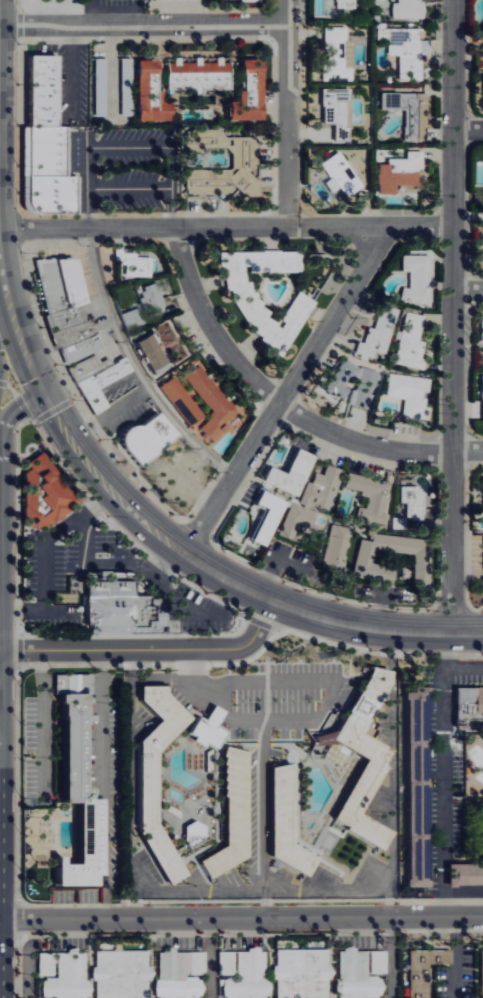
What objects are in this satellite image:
building: (344, 4)
building: (405, 9)
road: (91, 13)
road: (137, 13)
road: (143, 26)
building: (334, 55)
building: (195, 74)
building: (482, 88)
building: (40, 91)
building: (244, 93)
building: (144, 94)
building: (335, 111)
road: (287, 113)
road: (467, 128)
road: (129, 148)
building: (47, 172)
building: (397, 173)
building: (340, 174)
road: (129, 189)
building: (326, 190)
road: (225, 227)
building: (133, 263)
building: (414, 279)
building: (58, 284)
road: (467, 292)
building: (148, 296)
building: (251, 311)
building: (129, 315)
road: (452, 316)
building: (64, 318)
building: (480, 330)
building: (376, 332)
building: (70, 334)
building: (408, 343)
building: (77, 349)
building: (145, 349)
building: (175, 351)
road: (2, 367)
building: (85, 367)
road: (135, 367)
building: (339, 377)
building: (99, 383)
building: (481, 385)
building: (363, 390)
road: (284, 392)
building: (407, 393)
building: (207, 399)
building: (177, 400)
road: (282, 404)
road: (18, 408)
building: (143, 439)
building: (287, 474)
building: (168, 481)
building: (319, 487)
building: (42, 494)
building: (482, 495)
building: (367, 497)
building: (407, 503)
building: (261, 514)
building: (293, 520)
building: (333, 548)
road: (177, 551)
building: (362, 563)
building: (120, 609)
road: (257, 640)
road: (105, 650)
road: (462, 669)
road: (283, 672)
building: (467, 703)
building: (204, 730)
building: (71, 731)
building: (362, 759)
road: (444, 777)
building: (415, 786)
building: (145, 789)
building: (231, 815)
road: (260, 823)
building: (280, 823)
road: (393, 824)
building: (82, 849)
building: (464, 875)
road: (388, 903)
road: (241, 919)
road: (208, 958)
road: (389, 958)
road: (456, 958)
building: (424, 961)
building: (224, 963)
building: (301, 973)
building: (359, 973)
building: (480, 973)
building: (120, 974)
building: (178, 974)
building: (66, 976)
building: (246, 976)
road: (21, 983)

